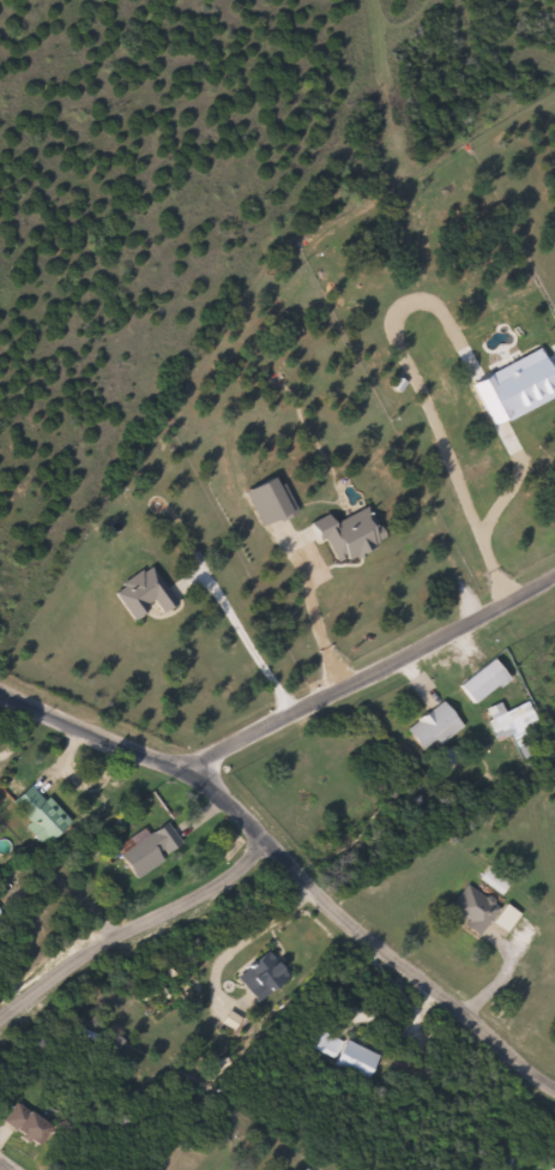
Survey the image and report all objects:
building: (357, 306)
road: (368, 671)
building: (487, 680)
building: (438, 722)
building: (521, 727)
building: (43, 815)
building: (155, 850)
road: (295, 868)
building: (476, 910)
road: (135, 928)
building: (266, 976)
building: (350, 1052)
building: (31, 1124)
road: (4, 1166)

